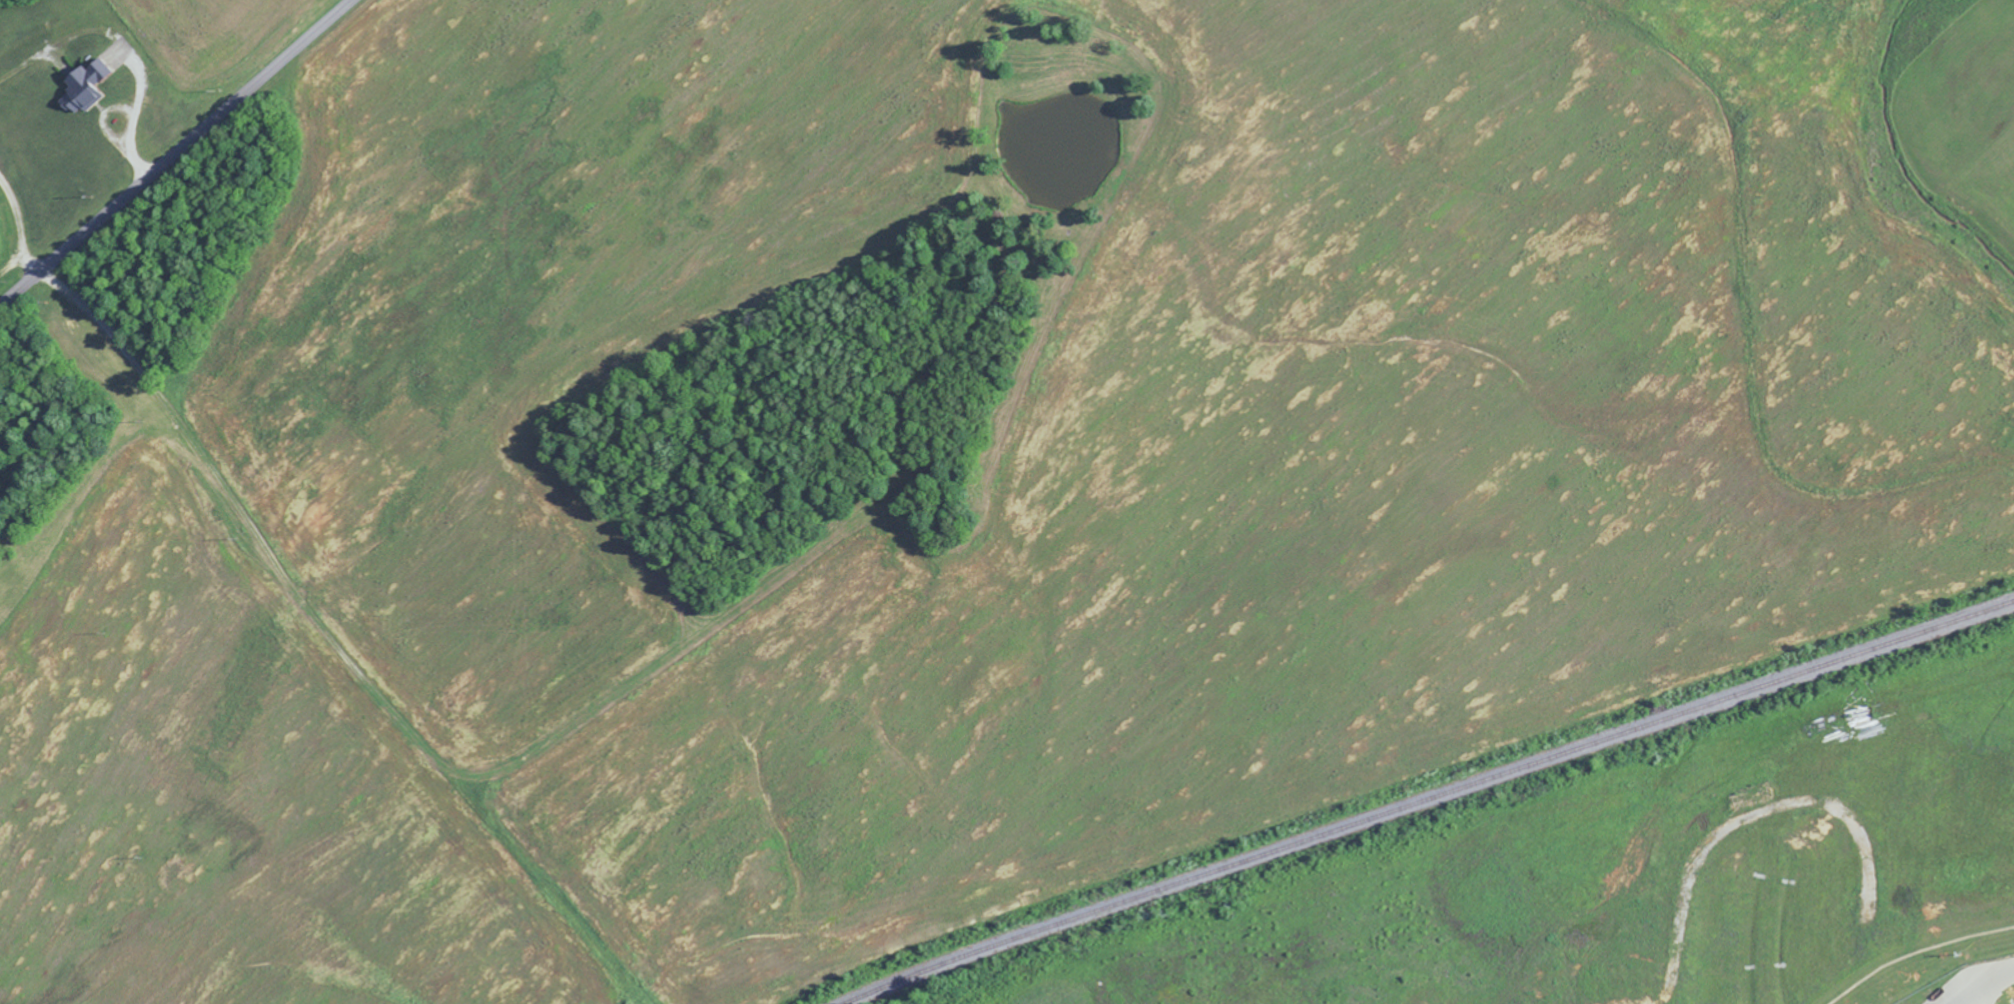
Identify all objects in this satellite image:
road: (125, 40)
road: (173, 150)
road: (20, 220)
railway: (1423, 796)
road: (1980, 985)

